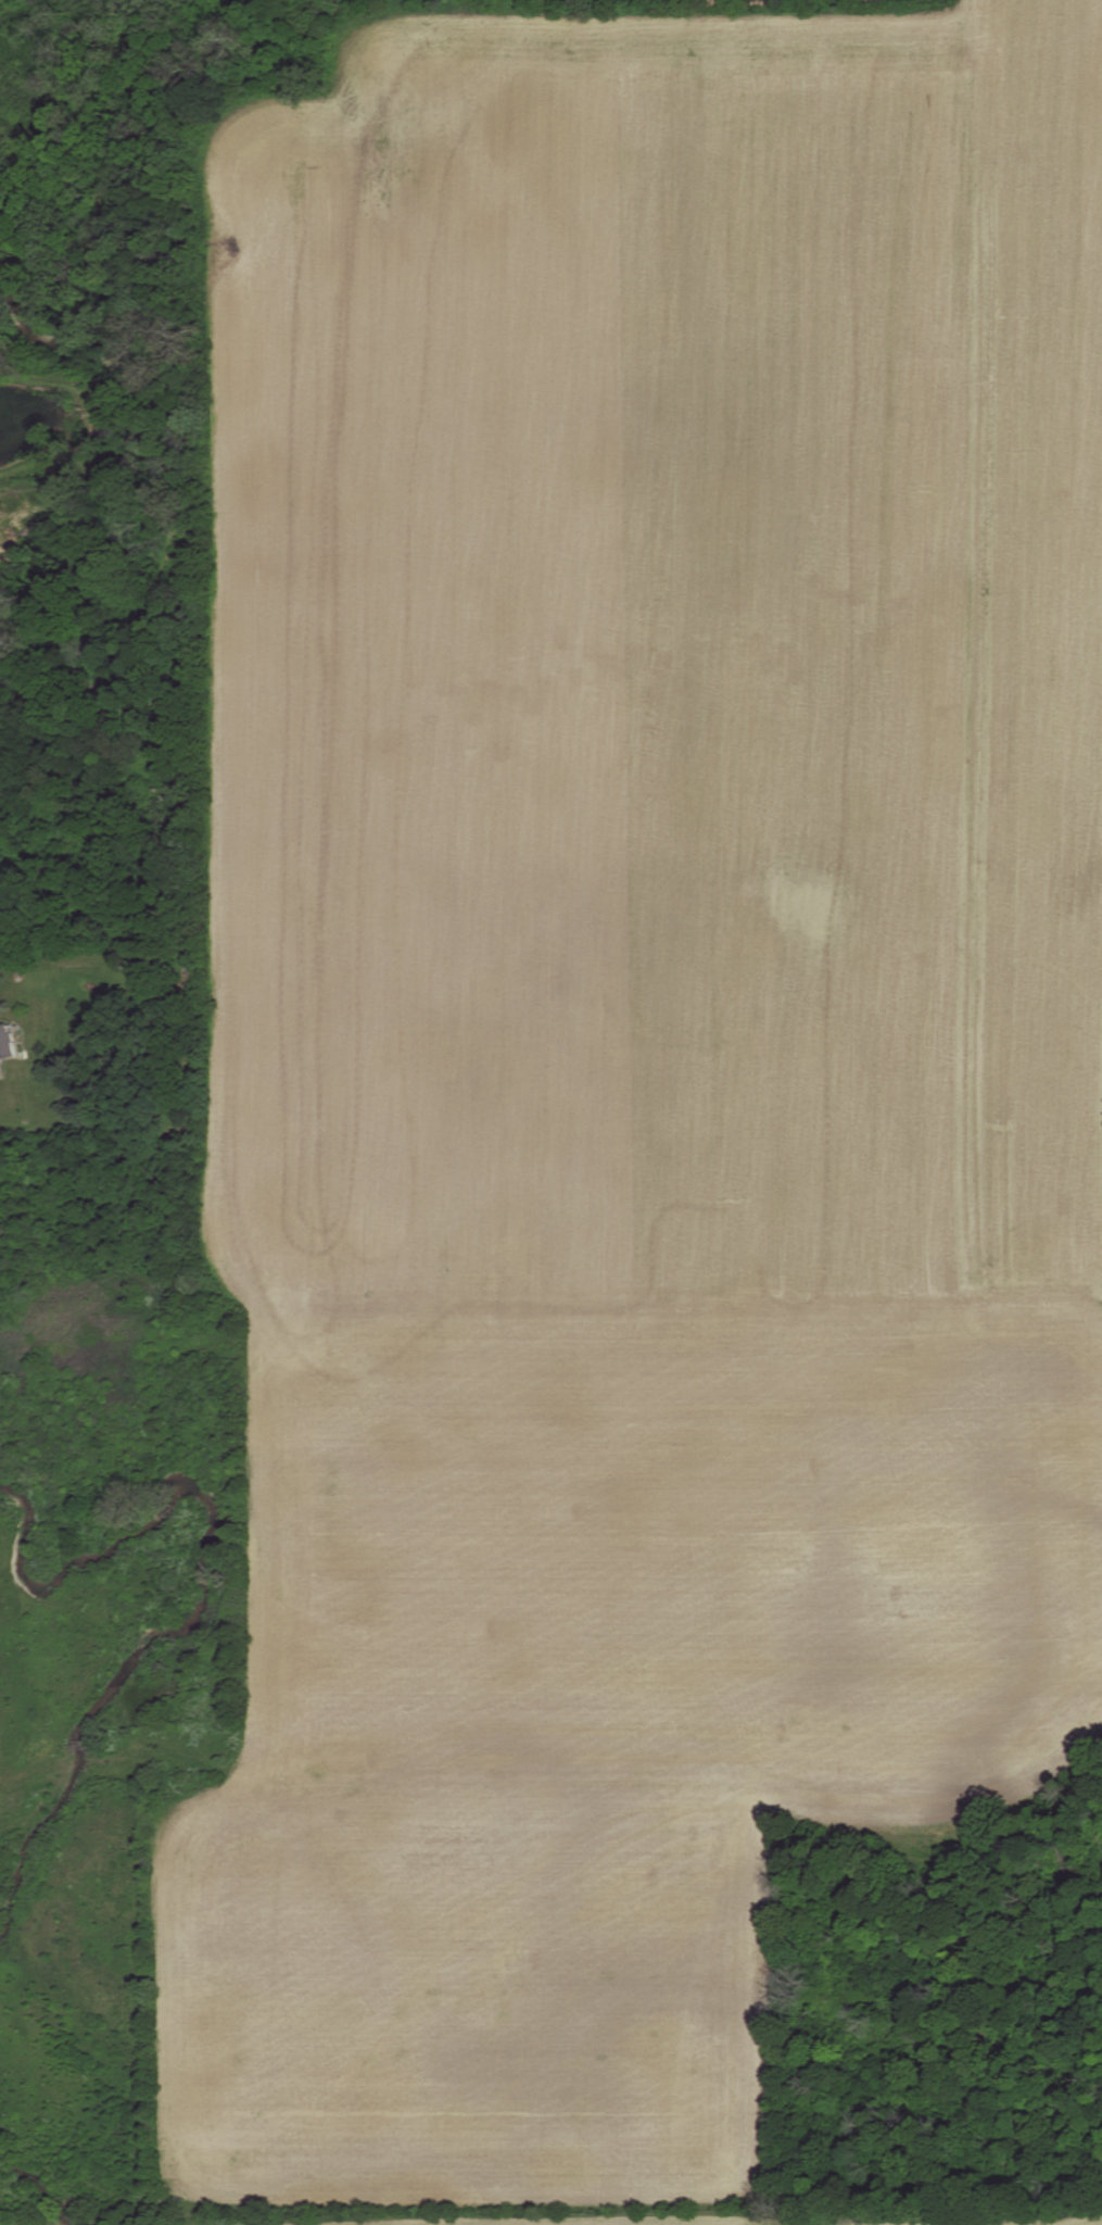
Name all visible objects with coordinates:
building: (9, 1043)

